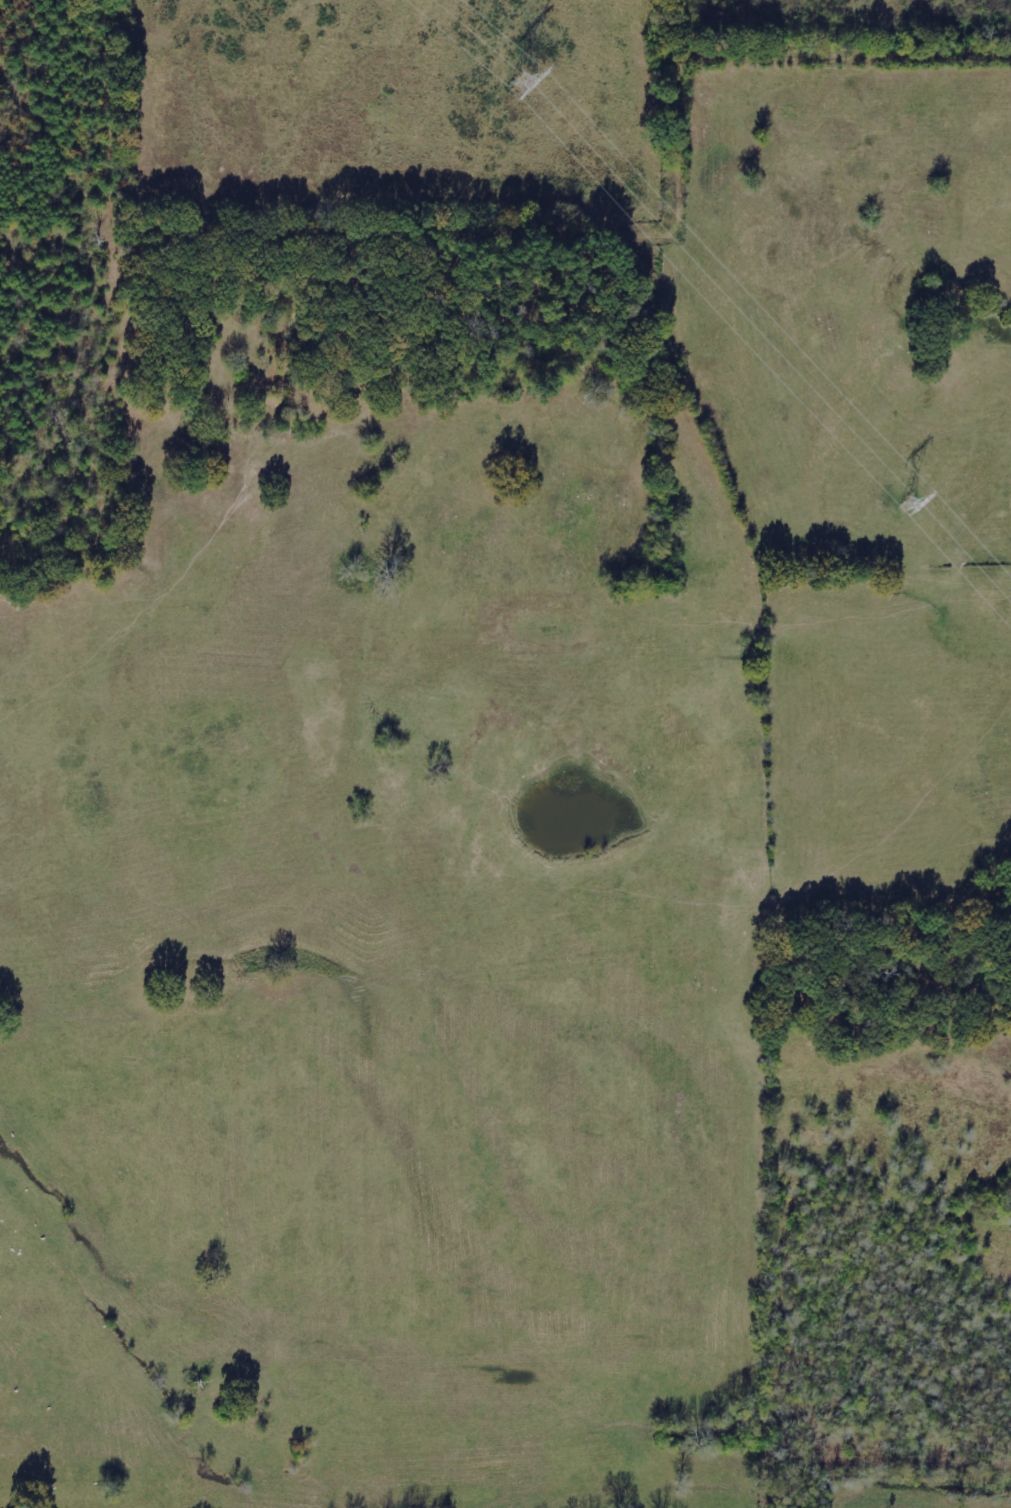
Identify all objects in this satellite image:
power tower: (528, 83)
power tower: (915, 504)

